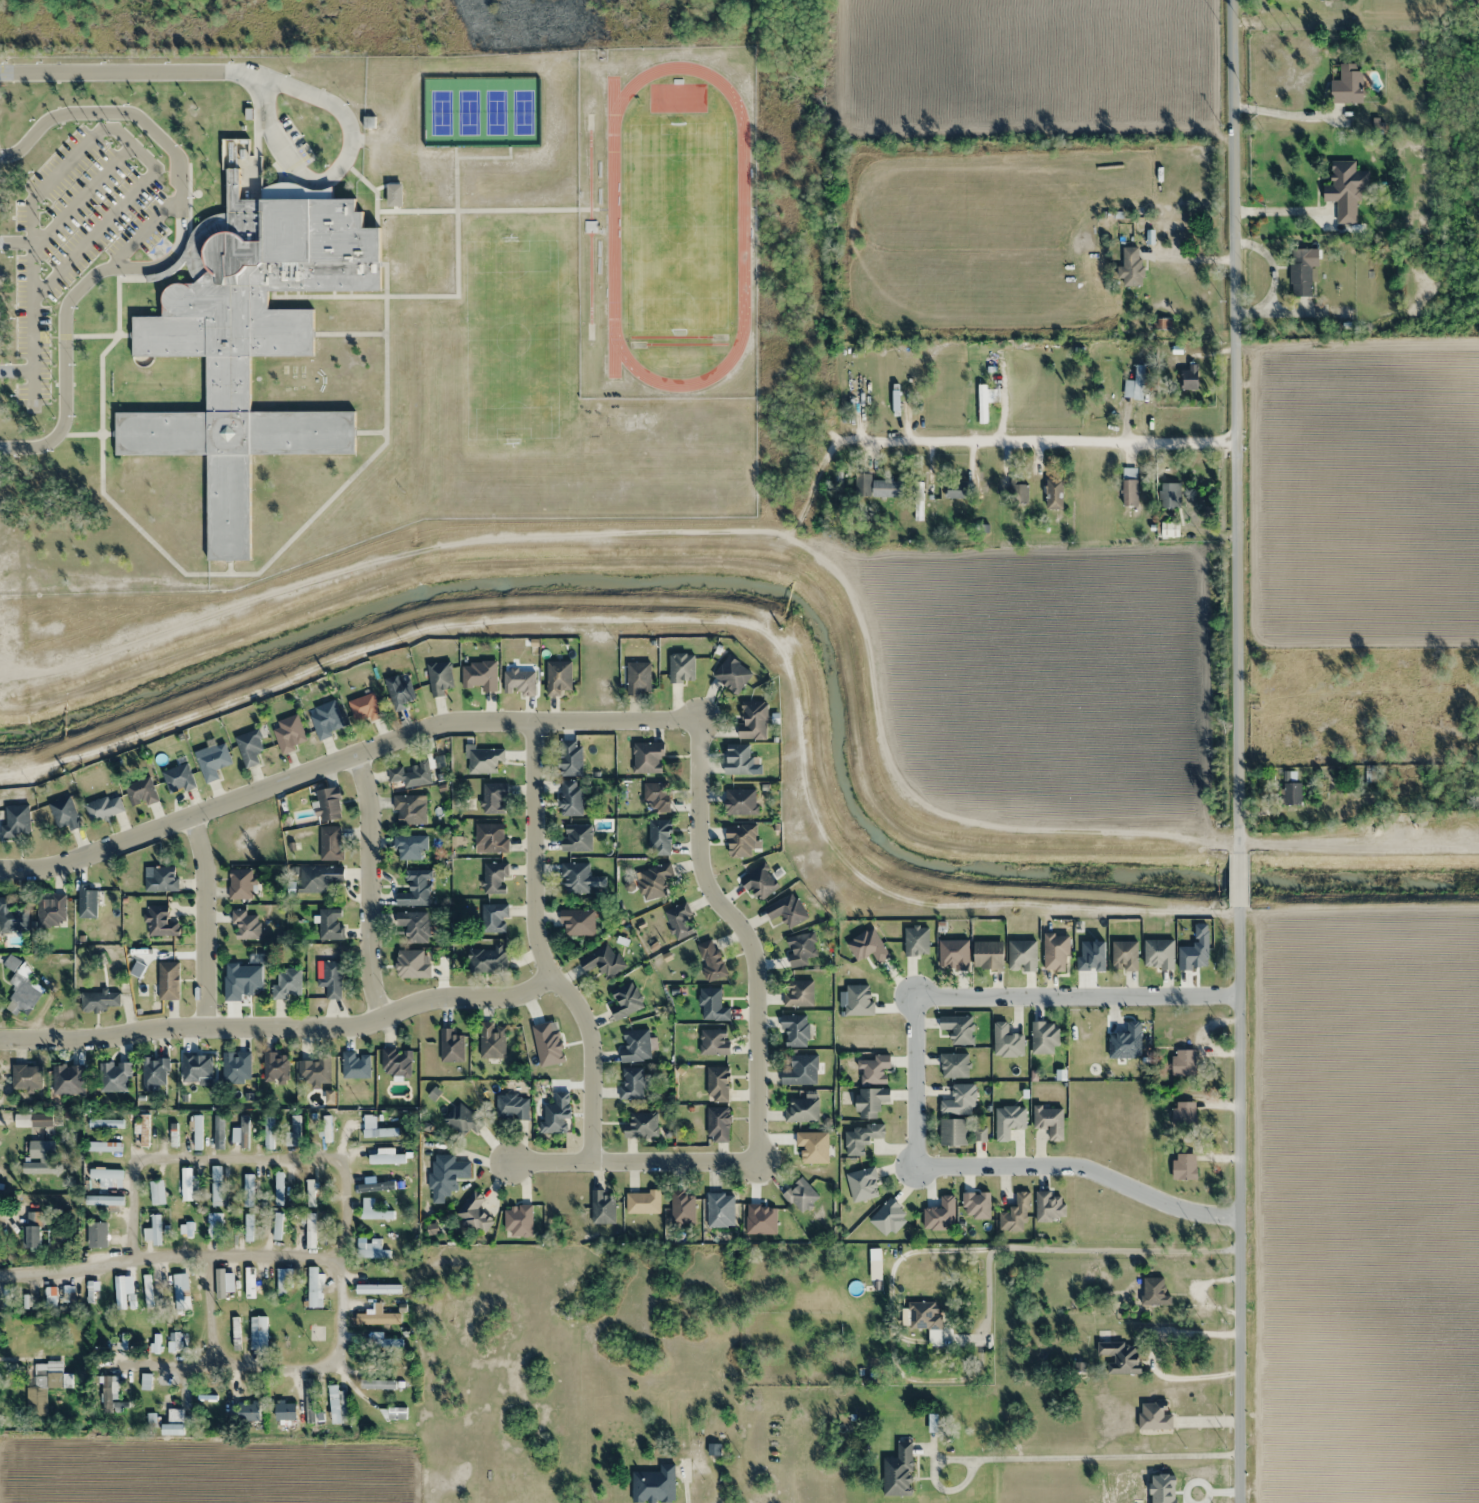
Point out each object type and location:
road: (128, 73)
building: (1347, 84)
park: (439, 111)
park: (466, 111)
park: (494, 111)
park: (520, 111)
road: (121, 137)
road: (485, 158)
road: (336, 168)
road: (367, 186)
building: (1346, 190)
road: (80, 199)
road: (525, 210)
track: (741, 225)
park: (676, 226)
road: (140, 233)
road: (15, 243)
road: (169, 259)
building: (1131, 266)
building: (1300, 272)
road: (131, 279)
road: (435, 297)
building: (1162, 323)
road: (348, 335)
road: (96, 336)
building: (249, 338)
road: (31, 357)
road: (15, 373)
building: (1189, 377)
building: (1135, 384)
building: (987, 407)
road: (1029, 428)
road: (369, 433)
road: (85, 435)
building: (1129, 486)
building: (876, 487)
building: (958, 490)
crop: (1367, 492)
building: (1019, 494)
building: (1054, 494)
building: (1169, 495)
road: (228, 568)
road: (229, 575)
building: (1303, 665)
building: (681, 668)
building: (732, 674)
building: (480, 676)
building: (439, 678)
building: (559, 678)
building: (638, 679)
building: (519, 682)
building: (398, 693)
building: (364, 708)
building: (326, 719)
building: (753, 719)
building: (289, 734)
building: (249, 747)
road: (1234, 751)
road: (343, 758)
building: (570, 758)
building: (647, 758)
building: (738, 758)
building: (483, 760)
building: (213, 762)
building: (413, 774)
building: (178, 779)
building: (1290, 789)
building: (141, 792)
building: (657, 797)
building: (494, 798)
building: (571, 798)
building: (740, 801)
building: (328, 804)
building: (104, 808)
building: (410, 810)
building: (64, 813)
building: (16, 821)
building: (659, 837)
building: (490, 838)
building: (576, 838)
building: (740, 842)
building: (330, 843)
building: (410, 847)
building: (318, 877)
building: (160, 878)
building: (495, 878)
building: (579, 878)
building: (653, 882)
building: (760, 882)
building: (240, 883)
road: (370, 885)
building: (416, 889)
building: (87, 901)
building: (51, 910)
building: (787, 910)
building: (12, 916)
building: (494, 917)
building: (679, 920)
building: (160, 922)
road: (204, 922)
building: (578, 922)
building: (245, 924)
building: (330, 924)
building: (414, 925)
road: (744, 934)
building: (916, 941)
road: (539, 948)
building: (801, 949)
building: (1056, 951)
building: (988, 955)
building: (1124, 955)
building: (487, 959)
building: (711, 959)
building: (602, 961)
building: (11, 962)
building: (332, 978)
building: (168, 980)
building: (287, 983)
building: (24, 990)
building: (797, 992)
road: (1075, 995)
building: (100, 1000)
building: (626, 1001)
building: (712, 1004)
building: (958, 1028)
road: (280, 1029)
building: (795, 1029)
building: (492, 1040)
building: (714, 1042)
building: (1126, 1042)
building: (451, 1046)
building: (635, 1046)
building: (396, 1062)
building: (1183, 1062)
building: (356, 1065)
building: (953, 1065)
building: (235, 1066)
building: (275, 1066)
building: (196, 1068)
building: (874, 1069)
building: (314, 1070)
building: (800, 1070)
building: (154, 1072)
building: (26, 1076)
building: (114, 1076)
building: (68, 1079)
road: (913, 1082)
building: (631, 1084)
building: (717, 1084)
building: (870, 1101)
building: (512, 1107)
building: (801, 1110)
building: (1184, 1112)
building: (557, 1114)
building: (462, 1120)
building: (1049, 1121)
building: (105, 1123)
building: (717, 1124)
building: (641, 1125)
building: (326, 1129)
building: (294, 1130)
building: (243, 1131)
building: (378, 1131)
building: (197, 1132)
building: (269, 1132)
building: (959, 1132)
building: (173, 1133)
building: (219, 1135)
building: (862, 1137)
building: (103, 1146)
road: (237, 1152)
building: (42, 1157)
building: (376, 1159)
road: (634, 1163)
building: (1184, 1166)
road: (1079, 1168)
building: (106, 1175)
building: (446, 1175)
building: (186, 1184)
building: (216, 1185)
building: (377, 1185)
building: (278, 1188)
building: (247, 1190)
building: (153, 1193)
building: (309, 1193)
building: (800, 1195)
building: (104, 1200)
building: (642, 1202)
building: (976, 1204)
crop: (1362, 1204)
building: (602, 1207)
building: (682, 1207)
building: (1049, 1207)
building: (373, 1210)
building: (720, 1210)
building: (474, 1213)
building: (1016, 1214)
building: (518, 1220)
building: (311, 1225)
building: (215, 1226)
building: (276, 1226)
building: (248, 1227)
building: (156, 1229)
building: (96, 1234)
building: (36, 1236)
building: (371, 1249)
road: (333, 1251)
building: (874, 1264)
building: (284, 1278)
building: (249, 1282)
building: (219, 1285)
building: (313, 1286)
building: (378, 1288)
building: (179, 1289)
building: (1154, 1292)
road: (206, 1306)
building: (924, 1315)
building: (377, 1318)
building: (261, 1333)
building: (1119, 1357)
building: (145, 1381)
building: (377, 1384)
building: (109, 1392)
building: (309, 1401)
building: (337, 1405)
building: (248, 1411)
building: (285, 1411)
building: (384, 1411)
building: (171, 1429)
road: (1045, 1457)
building: (898, 1471)
building: (654, 1484)

